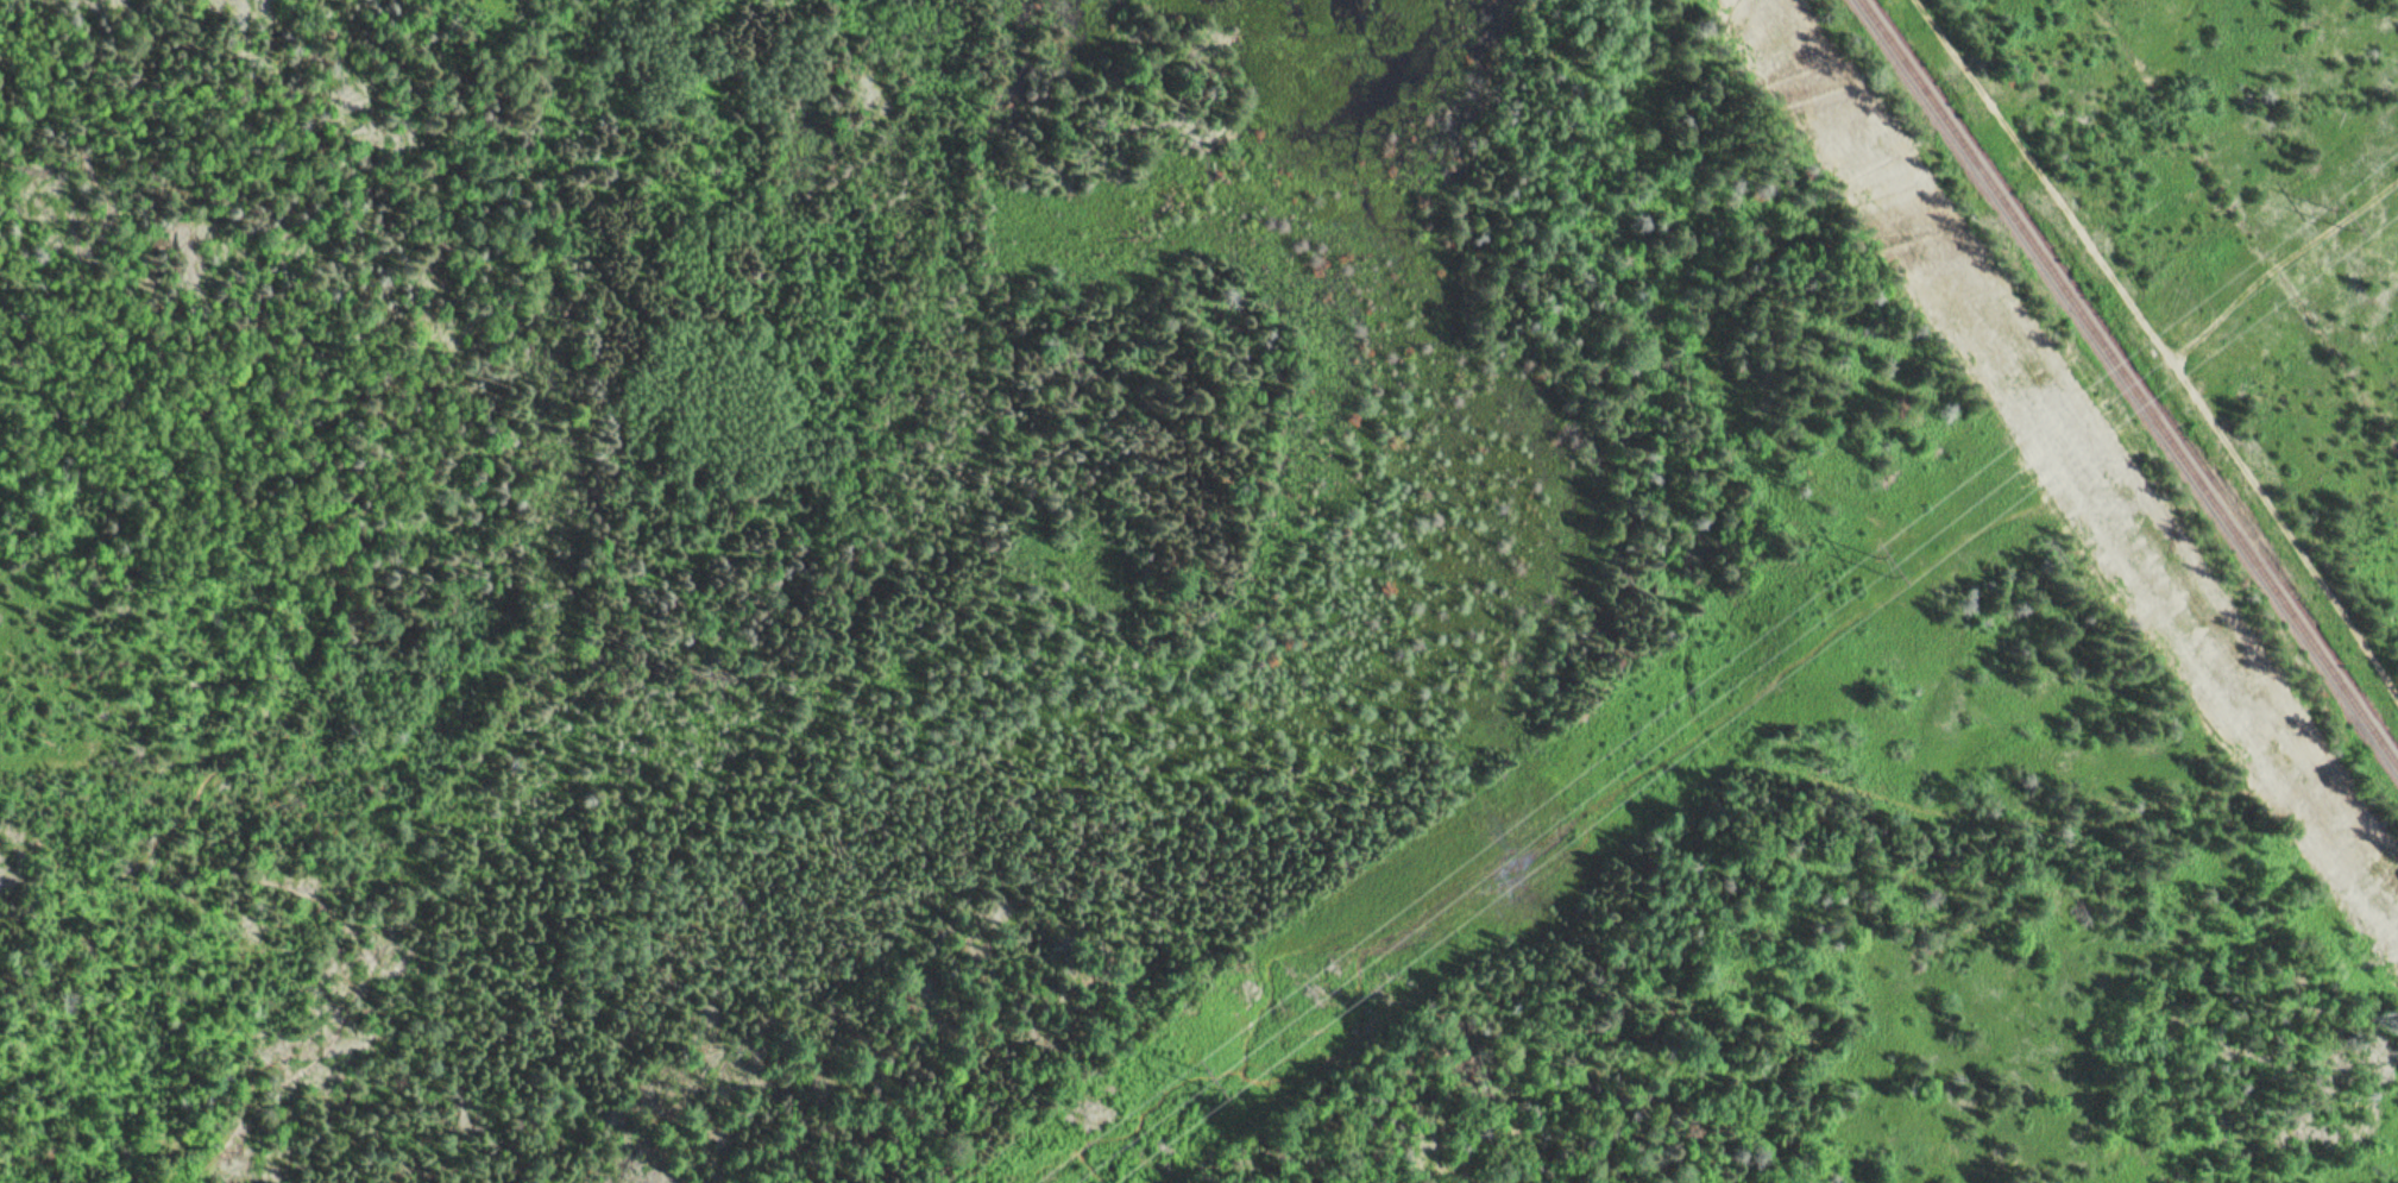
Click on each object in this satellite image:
road: (332, 5)
road: (2266, 197)
power tower: (2343, 215)
road: (2161, 339)
railway: (2132, 379)
road: (2001, 386)
power tower: (1884, 565)
power tower: (1213, 1071)

